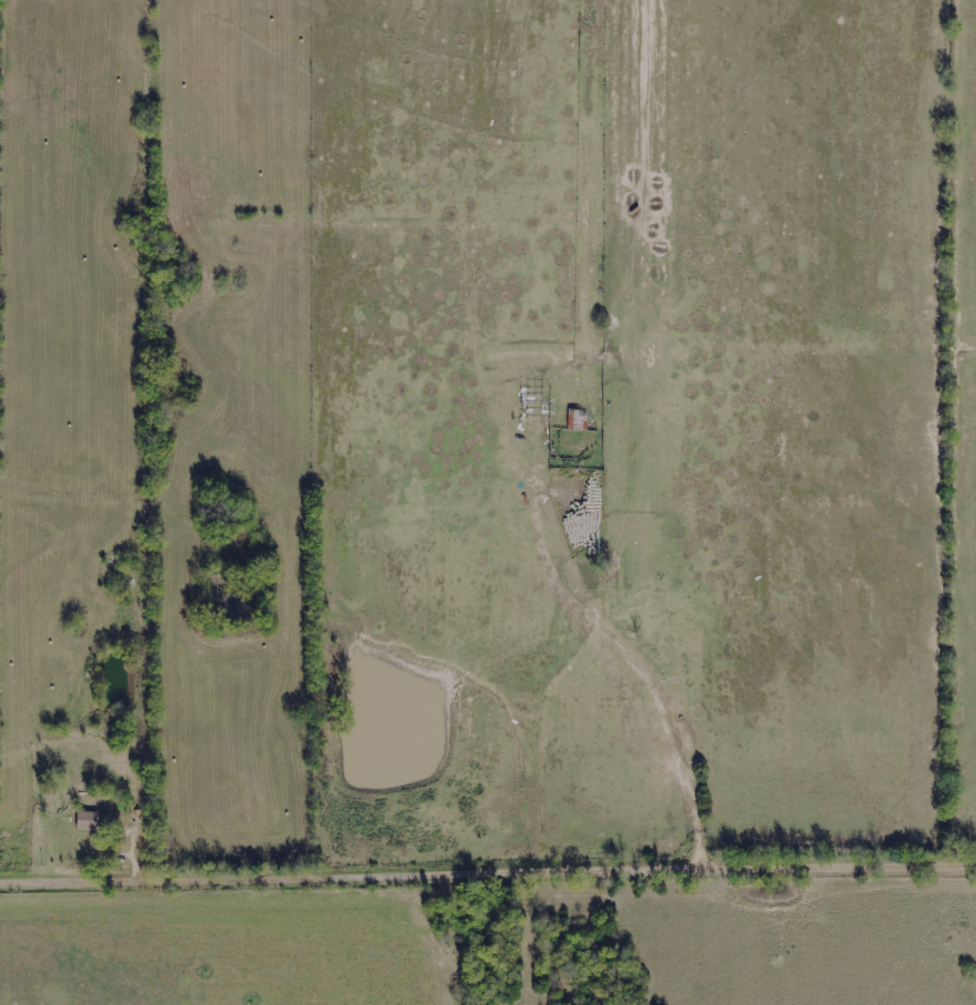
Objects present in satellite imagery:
building: (87, 820)
road: (488, 879)

